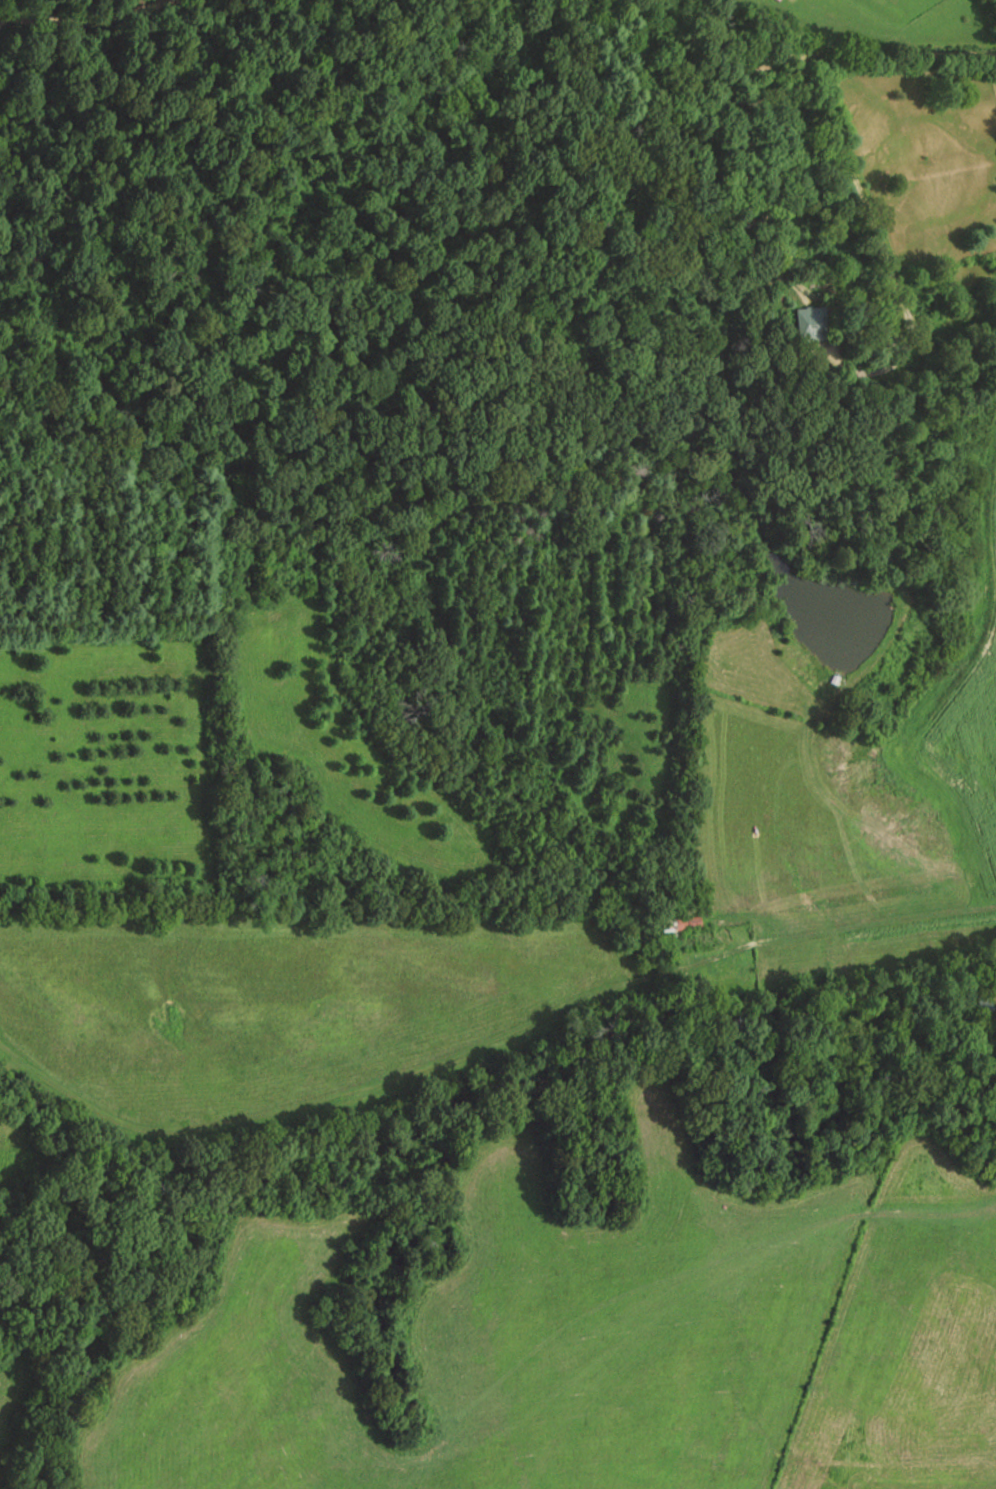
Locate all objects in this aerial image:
road: (71, 18)
building: (812, 322)
building: (688, 922)

